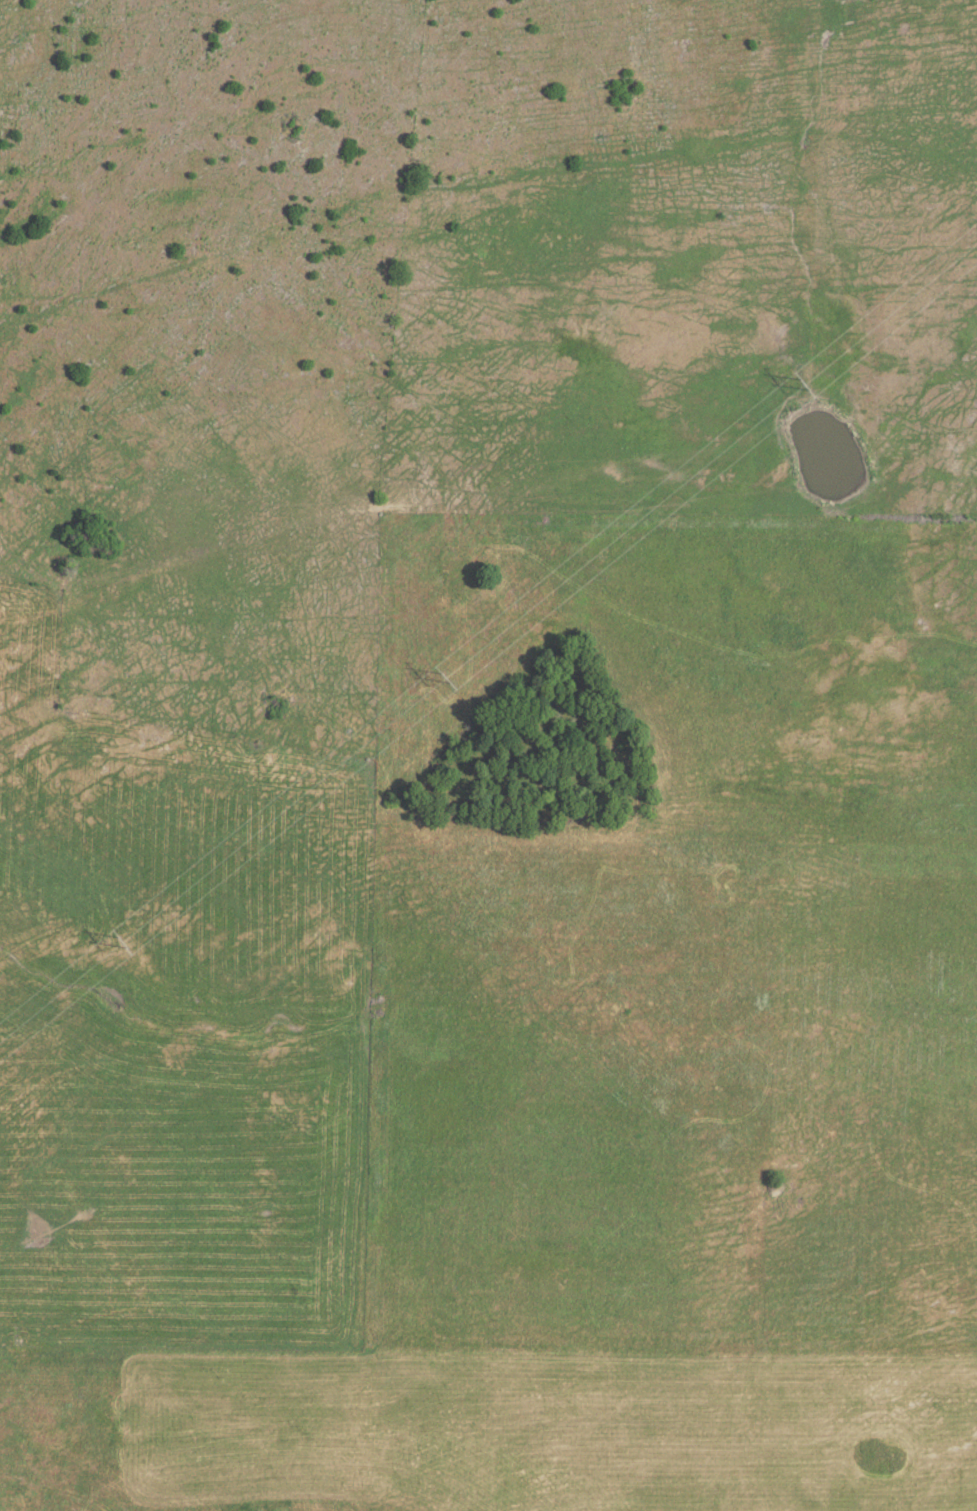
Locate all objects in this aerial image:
power tower: (801, 382)
power tower: (440, 675)
power tower: (125, 944)

